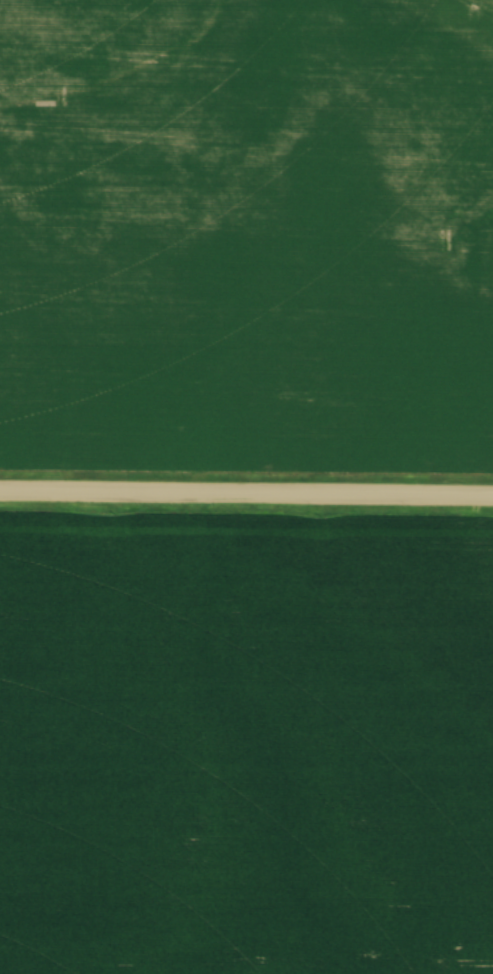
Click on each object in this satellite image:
road: (246, 490)

